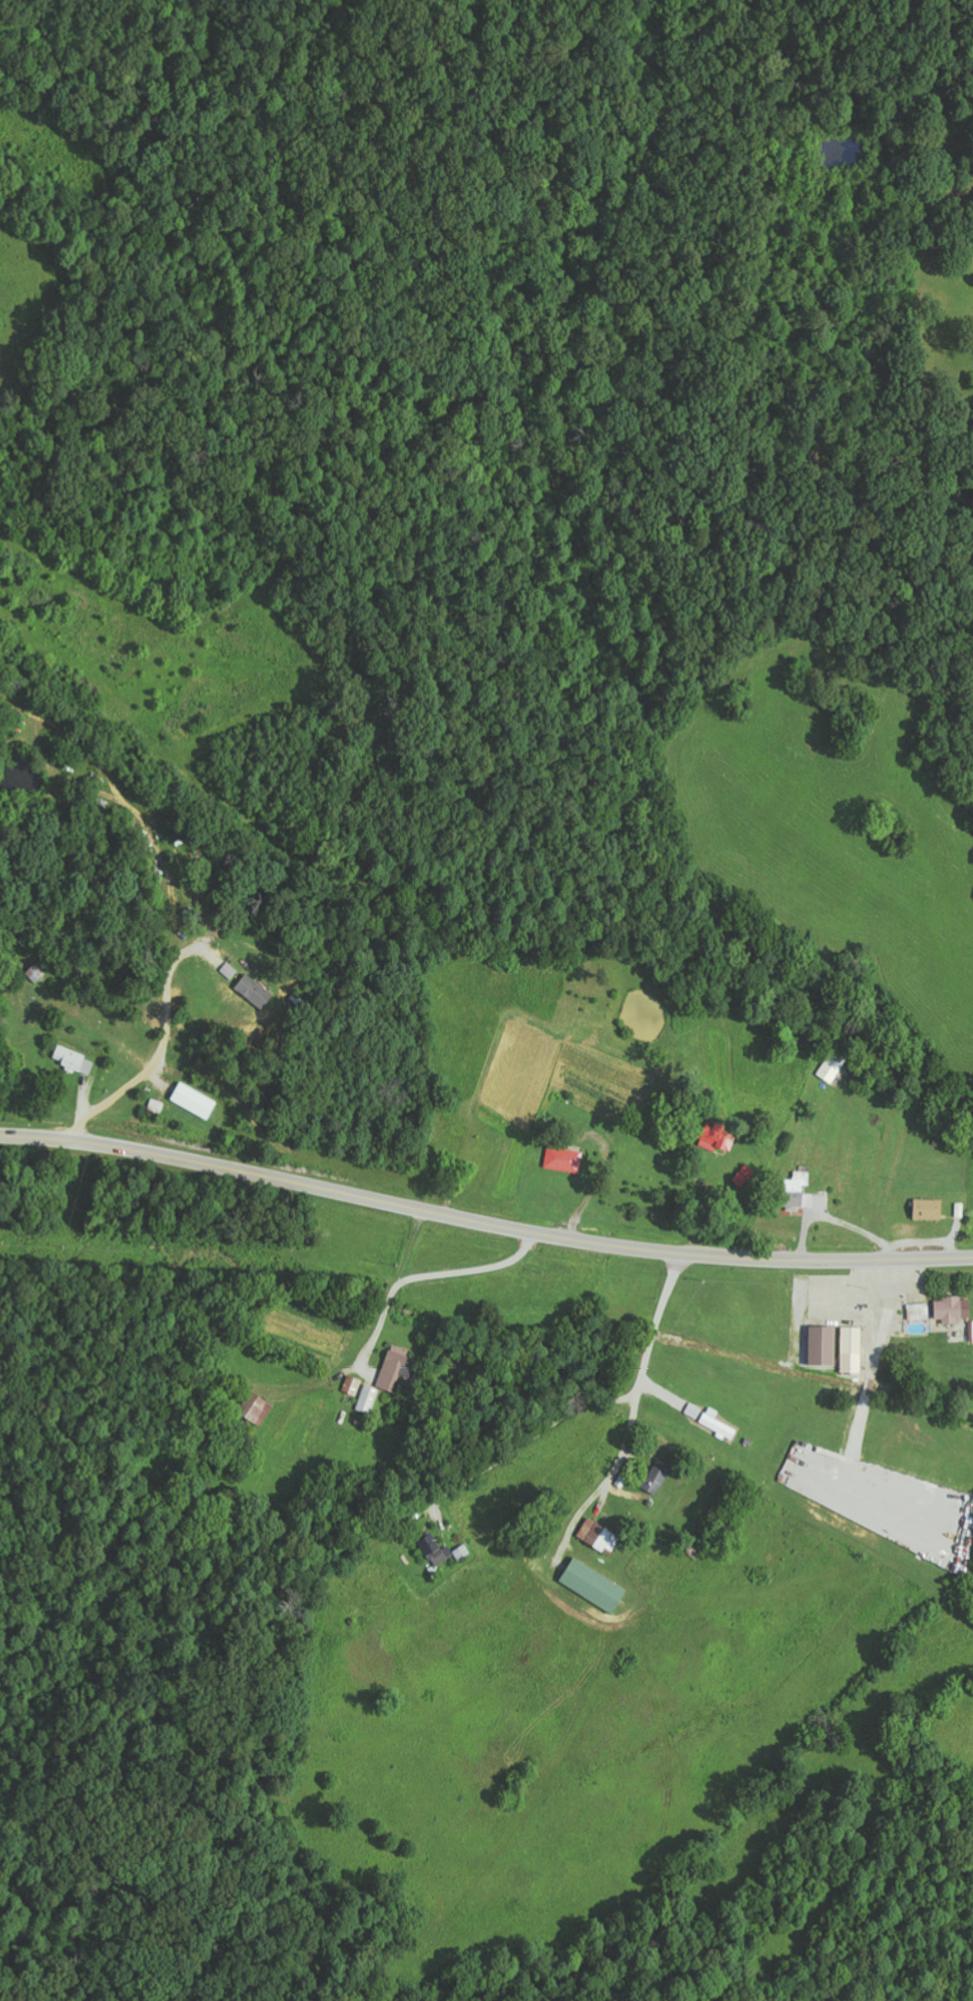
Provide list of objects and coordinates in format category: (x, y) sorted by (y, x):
building: (229, 970)
building: (255, 991)
building: (74, 1060)
building: (831, 1069)
building: (195, 1100)
building: (718, 1139)
building: (564, 1160)
building: (745, 1175)
building: (798, 1192)
building: (929, 1209)
road: (483, 1222)
building: (953, 1309)
building: (919, 1312)
building: (824, 1346)
building: (852, 1350)
building: (395, 1369)
building: (258, 1407)
building: (718, 1424)
road: (543, 1456)
building: (655, 1480)
road: (781, 1529)
building: (600, 1536)
building: (436, 1550)
building: (595, 1586)

